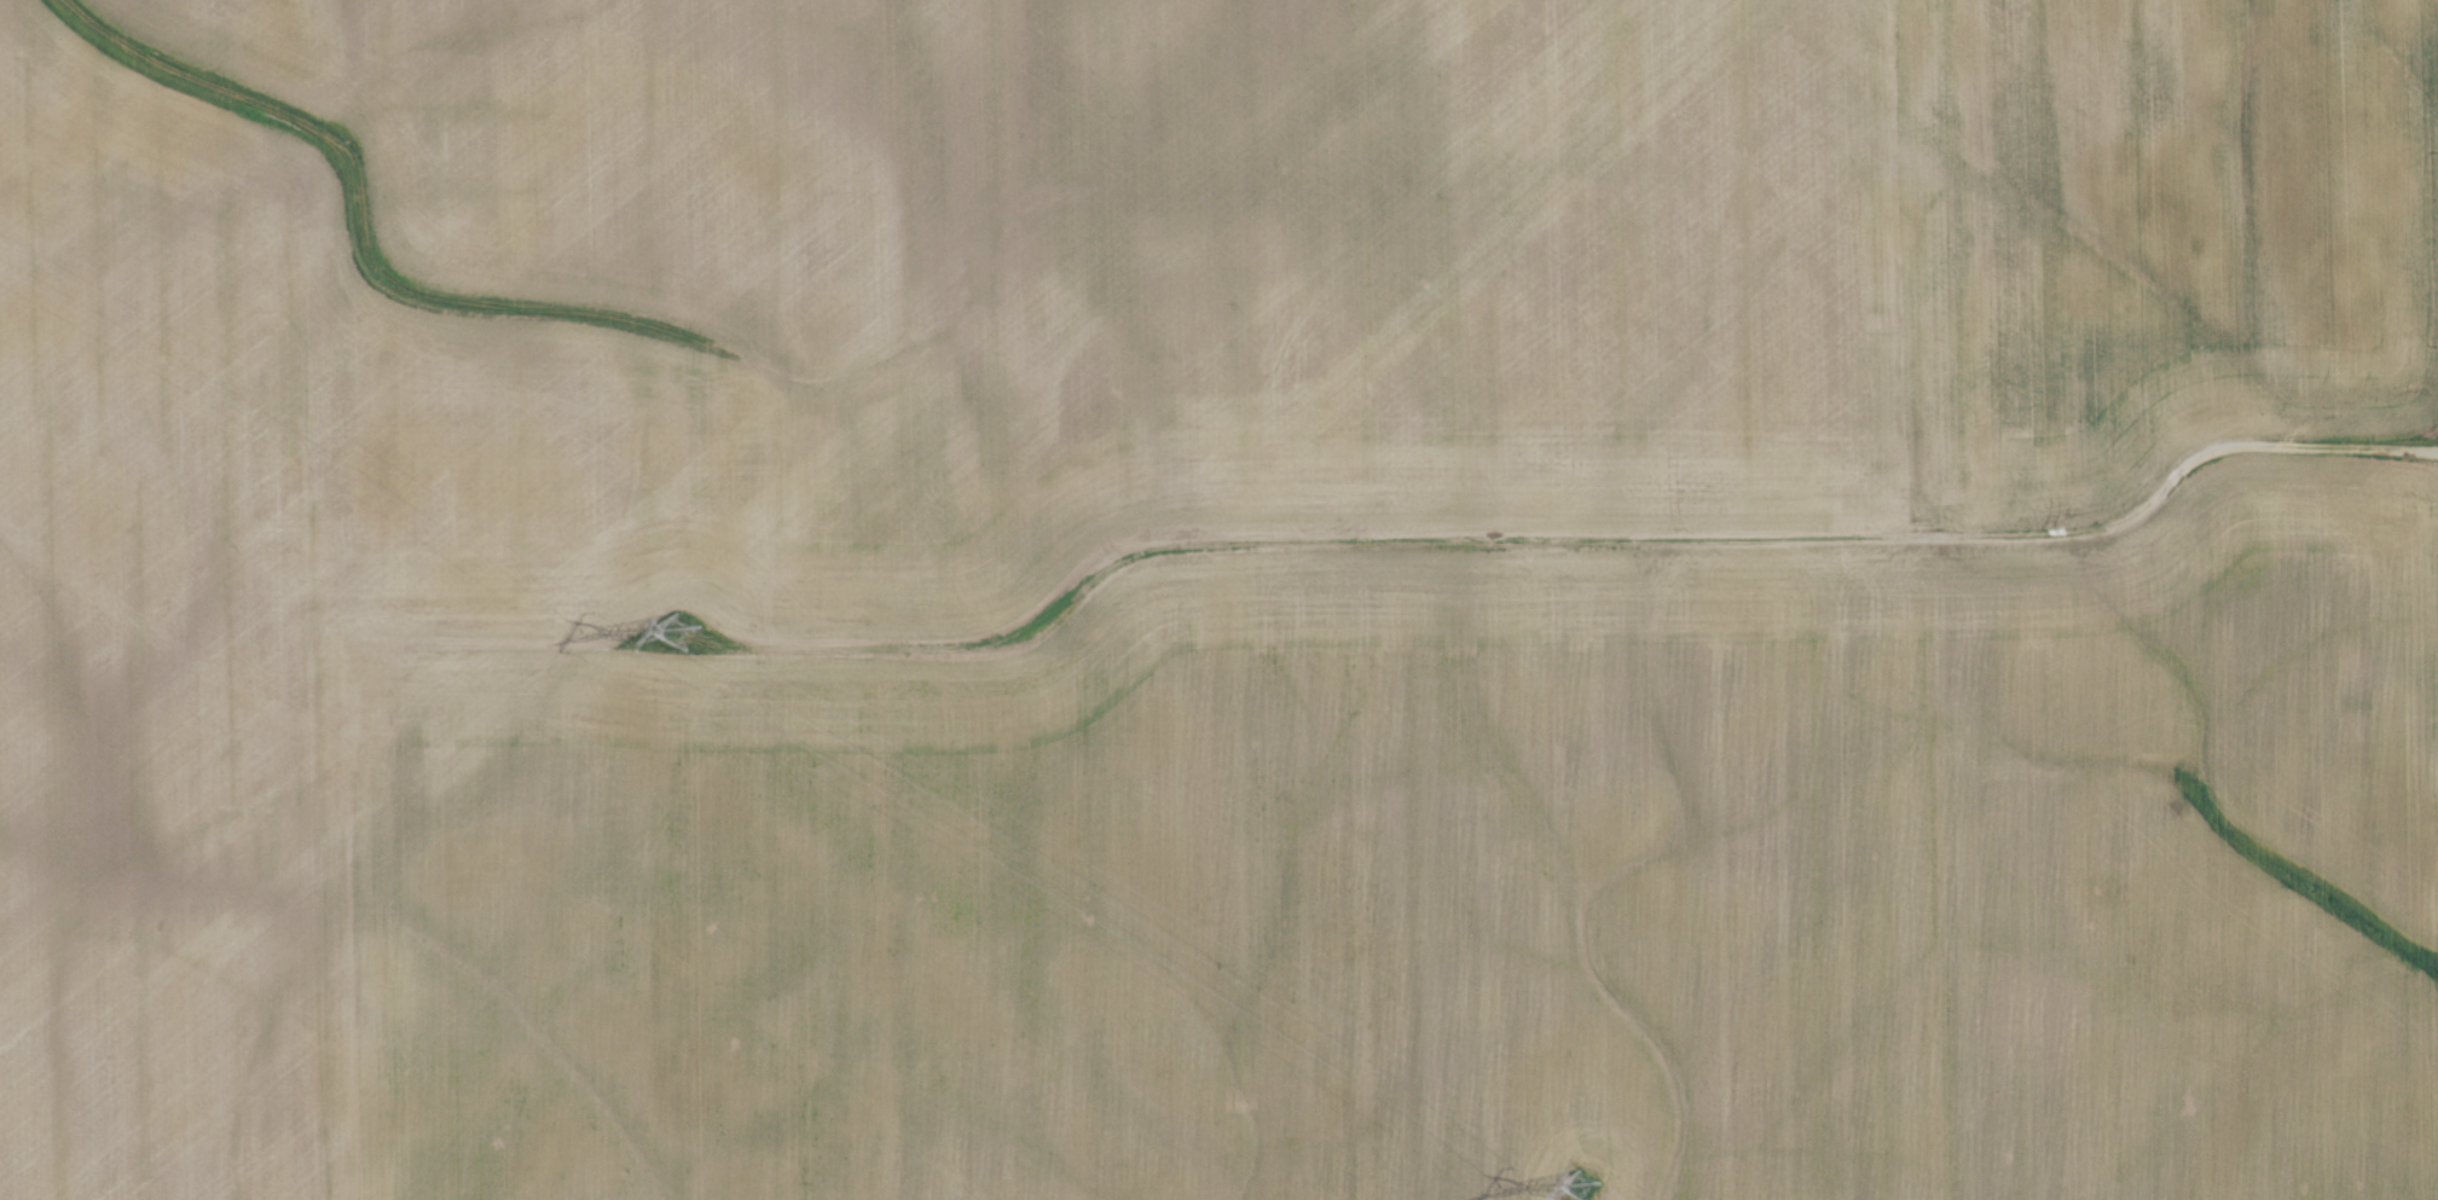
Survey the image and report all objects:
power tower: (683, 631)
power tower: (1589, 1185)

